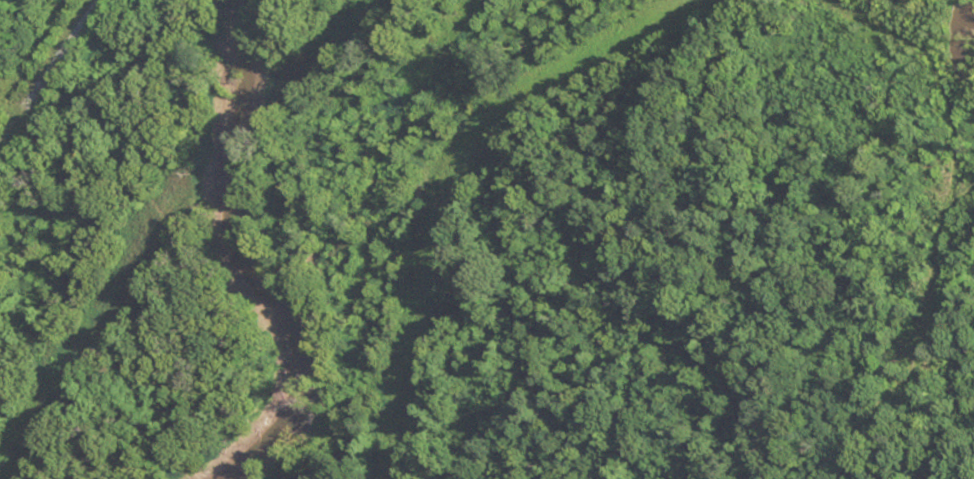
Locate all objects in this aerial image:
railway: (45, 71)

